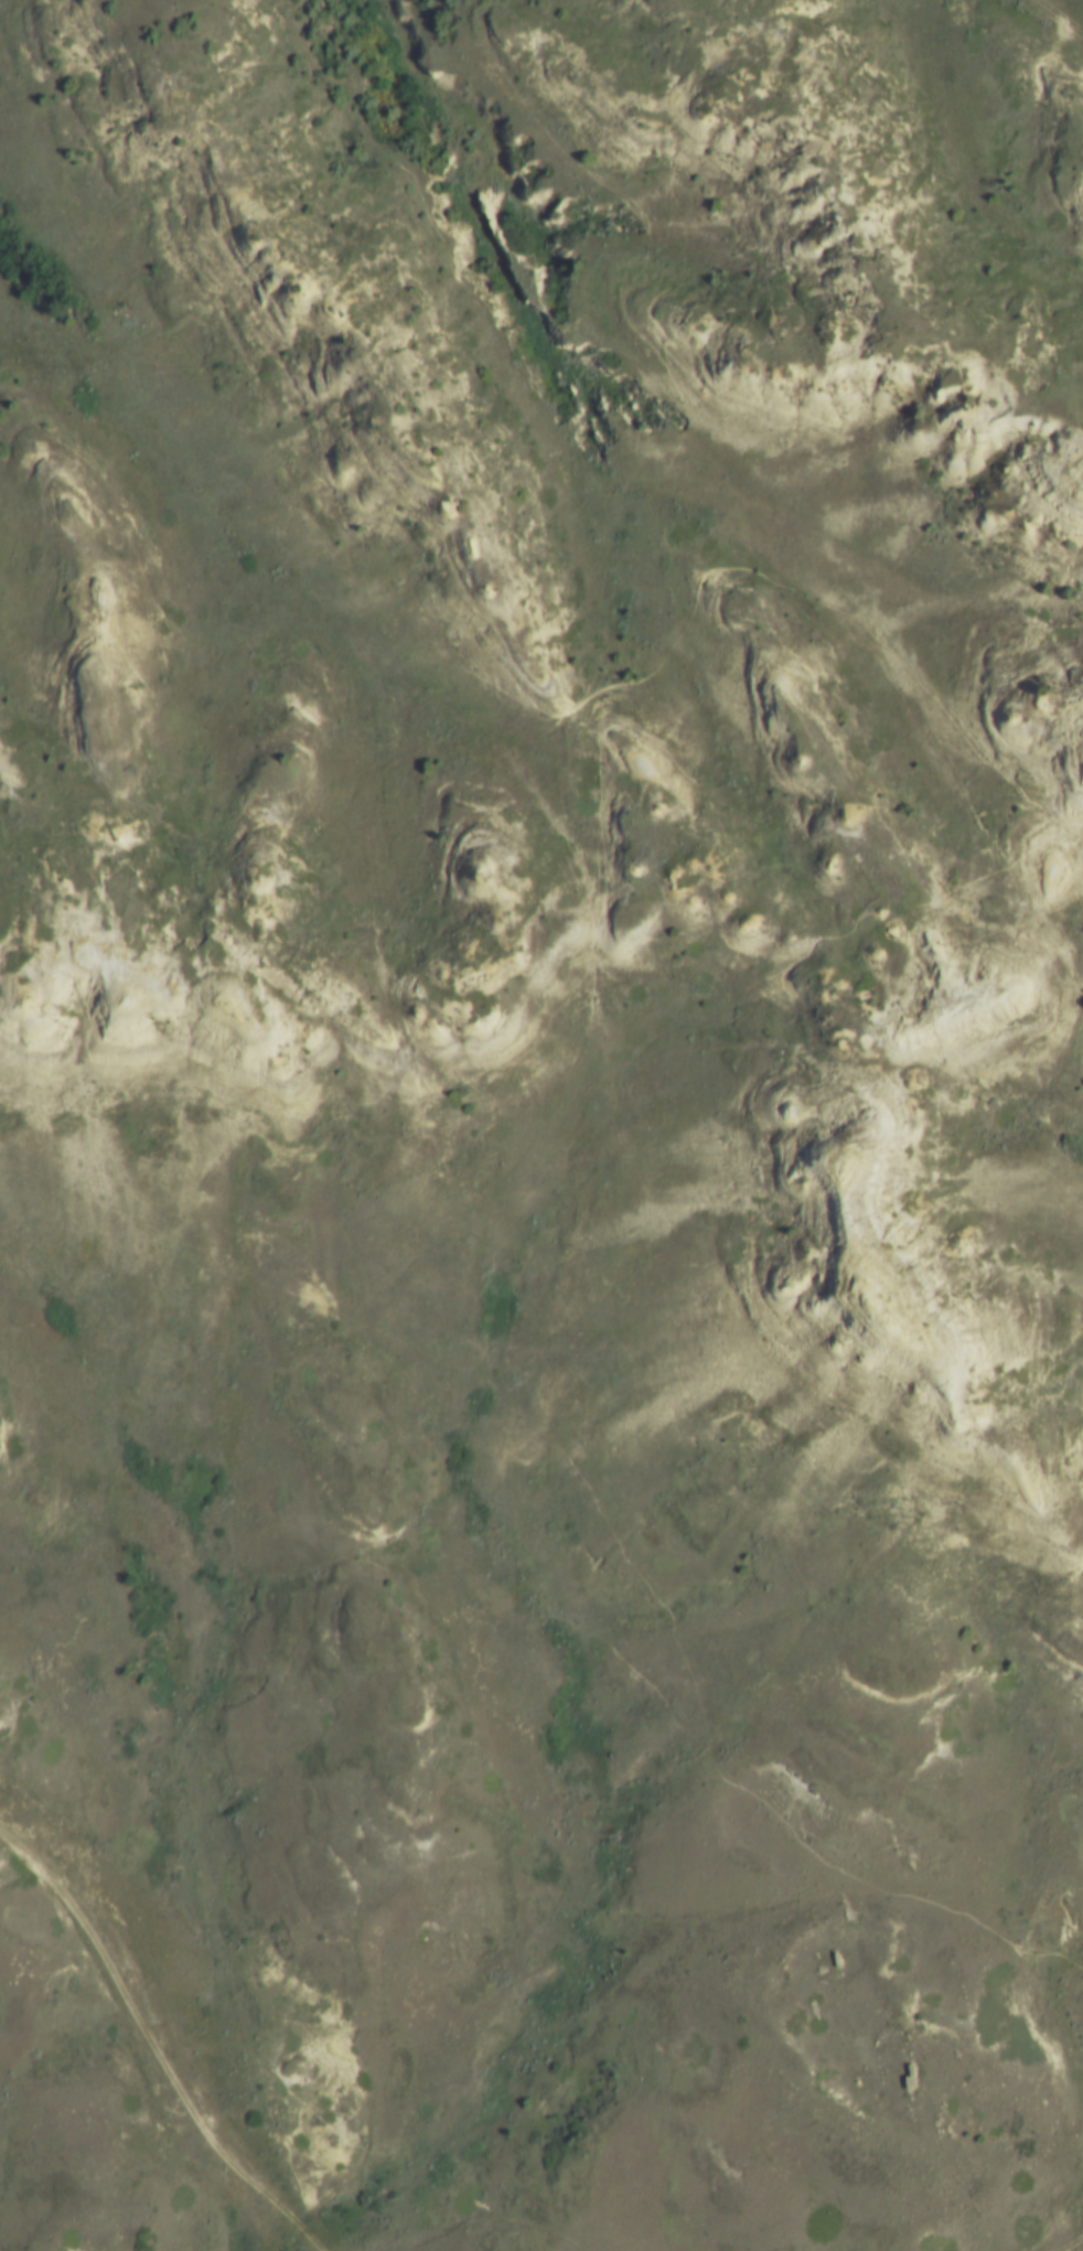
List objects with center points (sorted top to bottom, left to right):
road: (156, 2044)
road: (1073, 2244)

